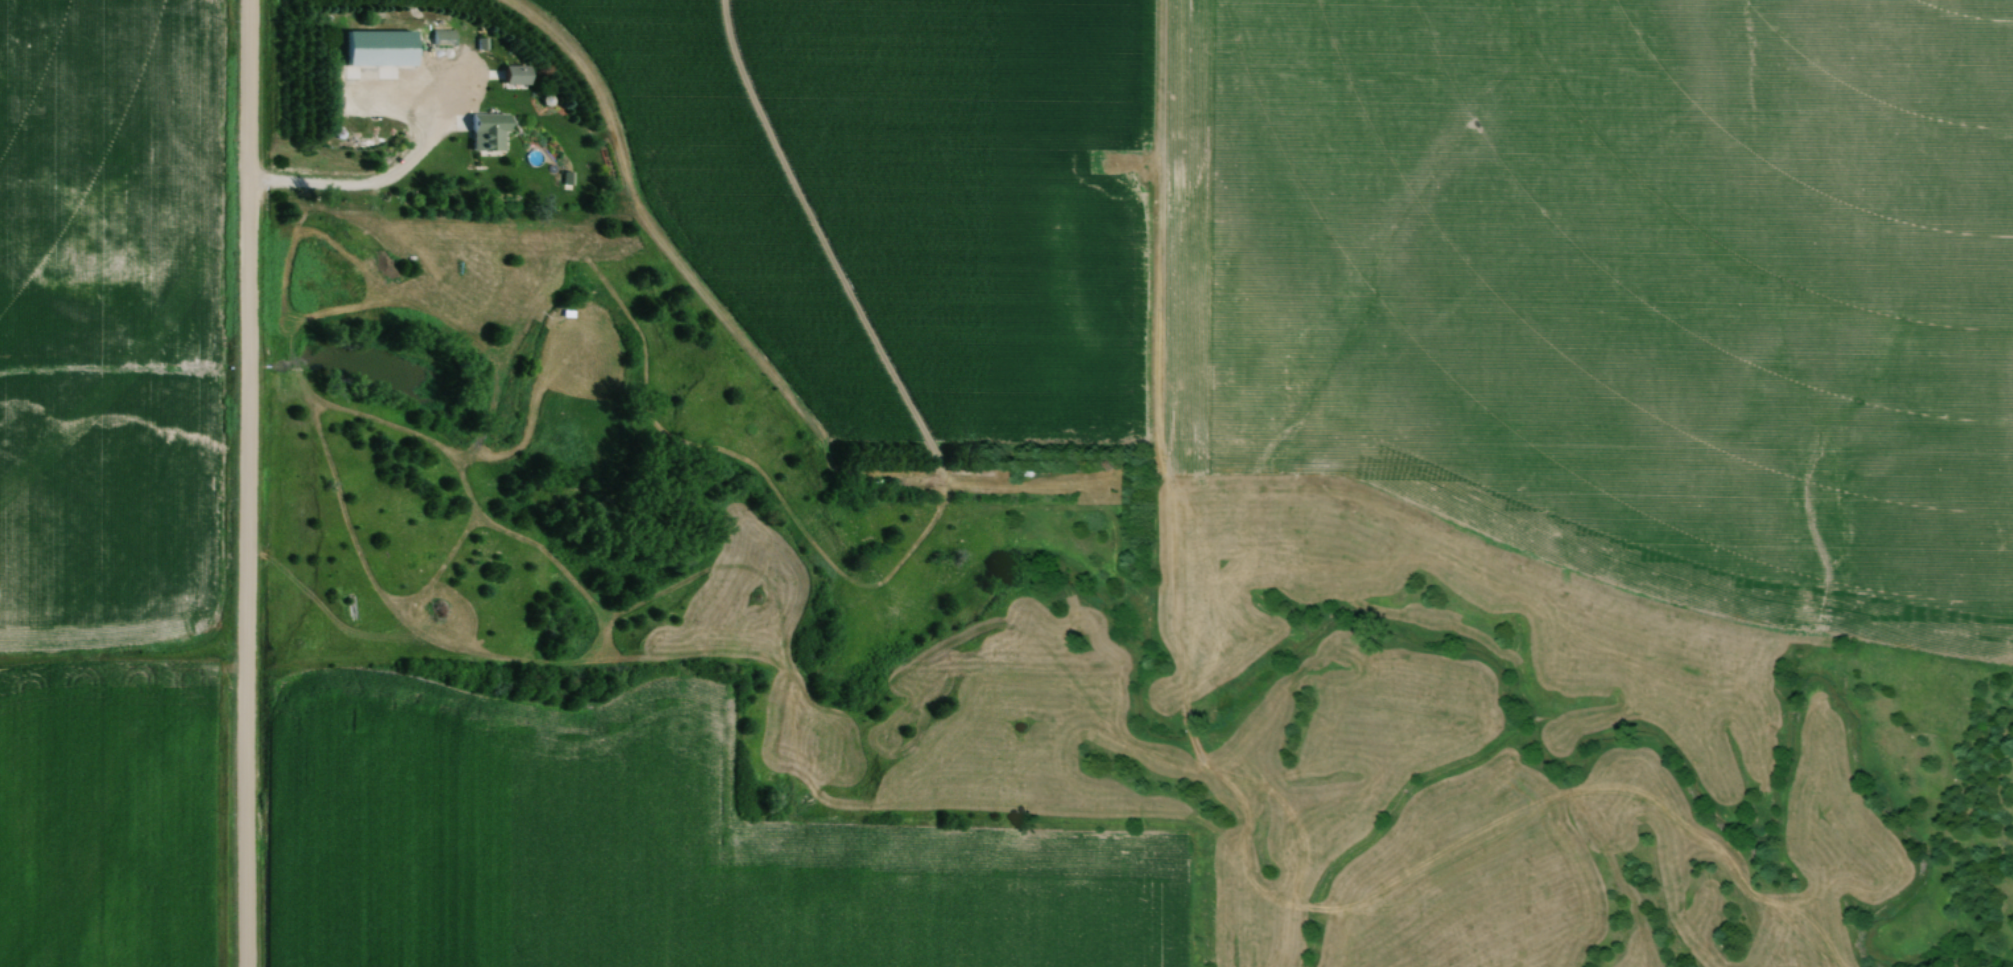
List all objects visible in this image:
building: (439, 35)
building: (509, 76)
building: (479, 133)
road: (250, 483)

